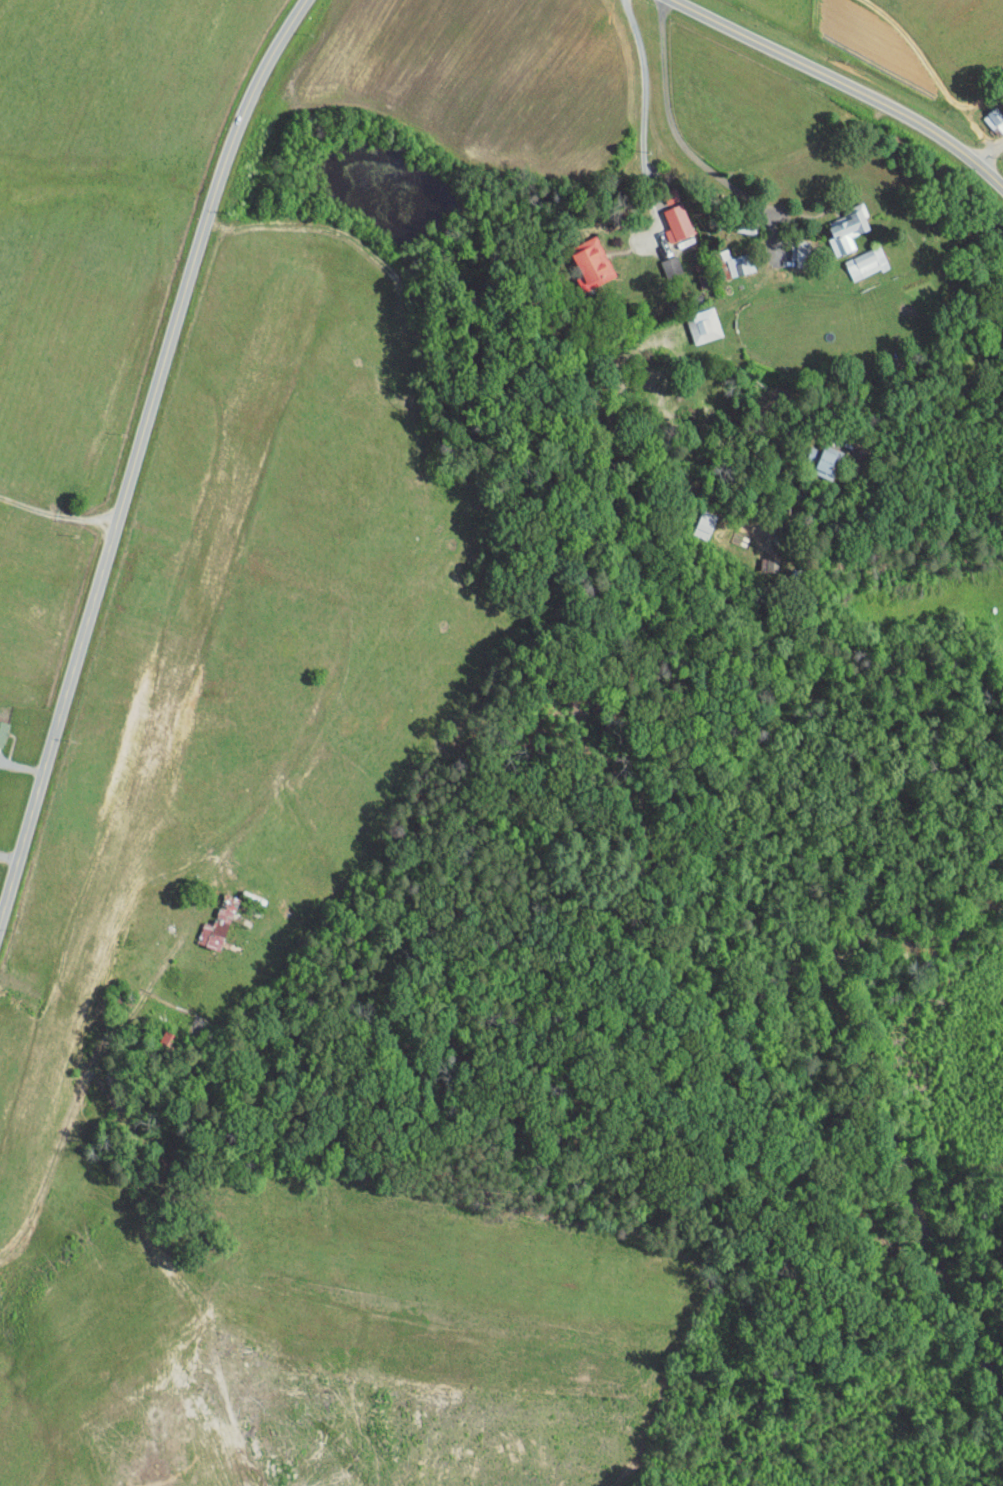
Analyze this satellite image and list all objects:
road: (843, 86)
road: (644, 109)
building: (986, 113)
road: (673, 127)
road: (987, 152)
building: (666, 217)
building: (838, 224)
building: (787, 250)
building: (583, 256)
building: (855, 256)
building: (728, 258)
building: (693, 319)
road: (948, 414)
road: (136, 454)
building: (816, 456)
road: (353, 587)
airport runway: (151, 733)
building: (208, 917)
road: (95, 984)

